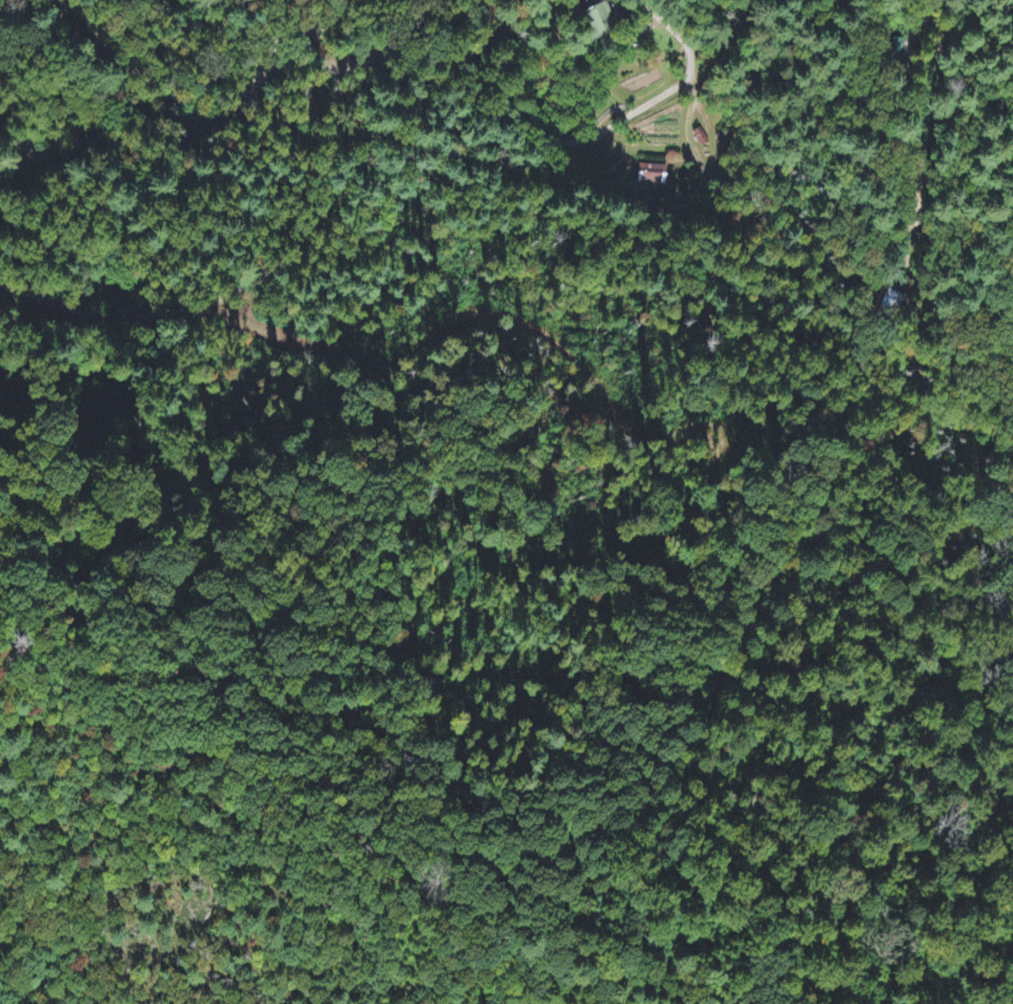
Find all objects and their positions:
building: (603, 21)
road: (461, 77)
road: (211, 121)
road: (926, 126)
building: (653, 176)
road: (123, 218)
road: (129, 314)
road: (1006, 331)

